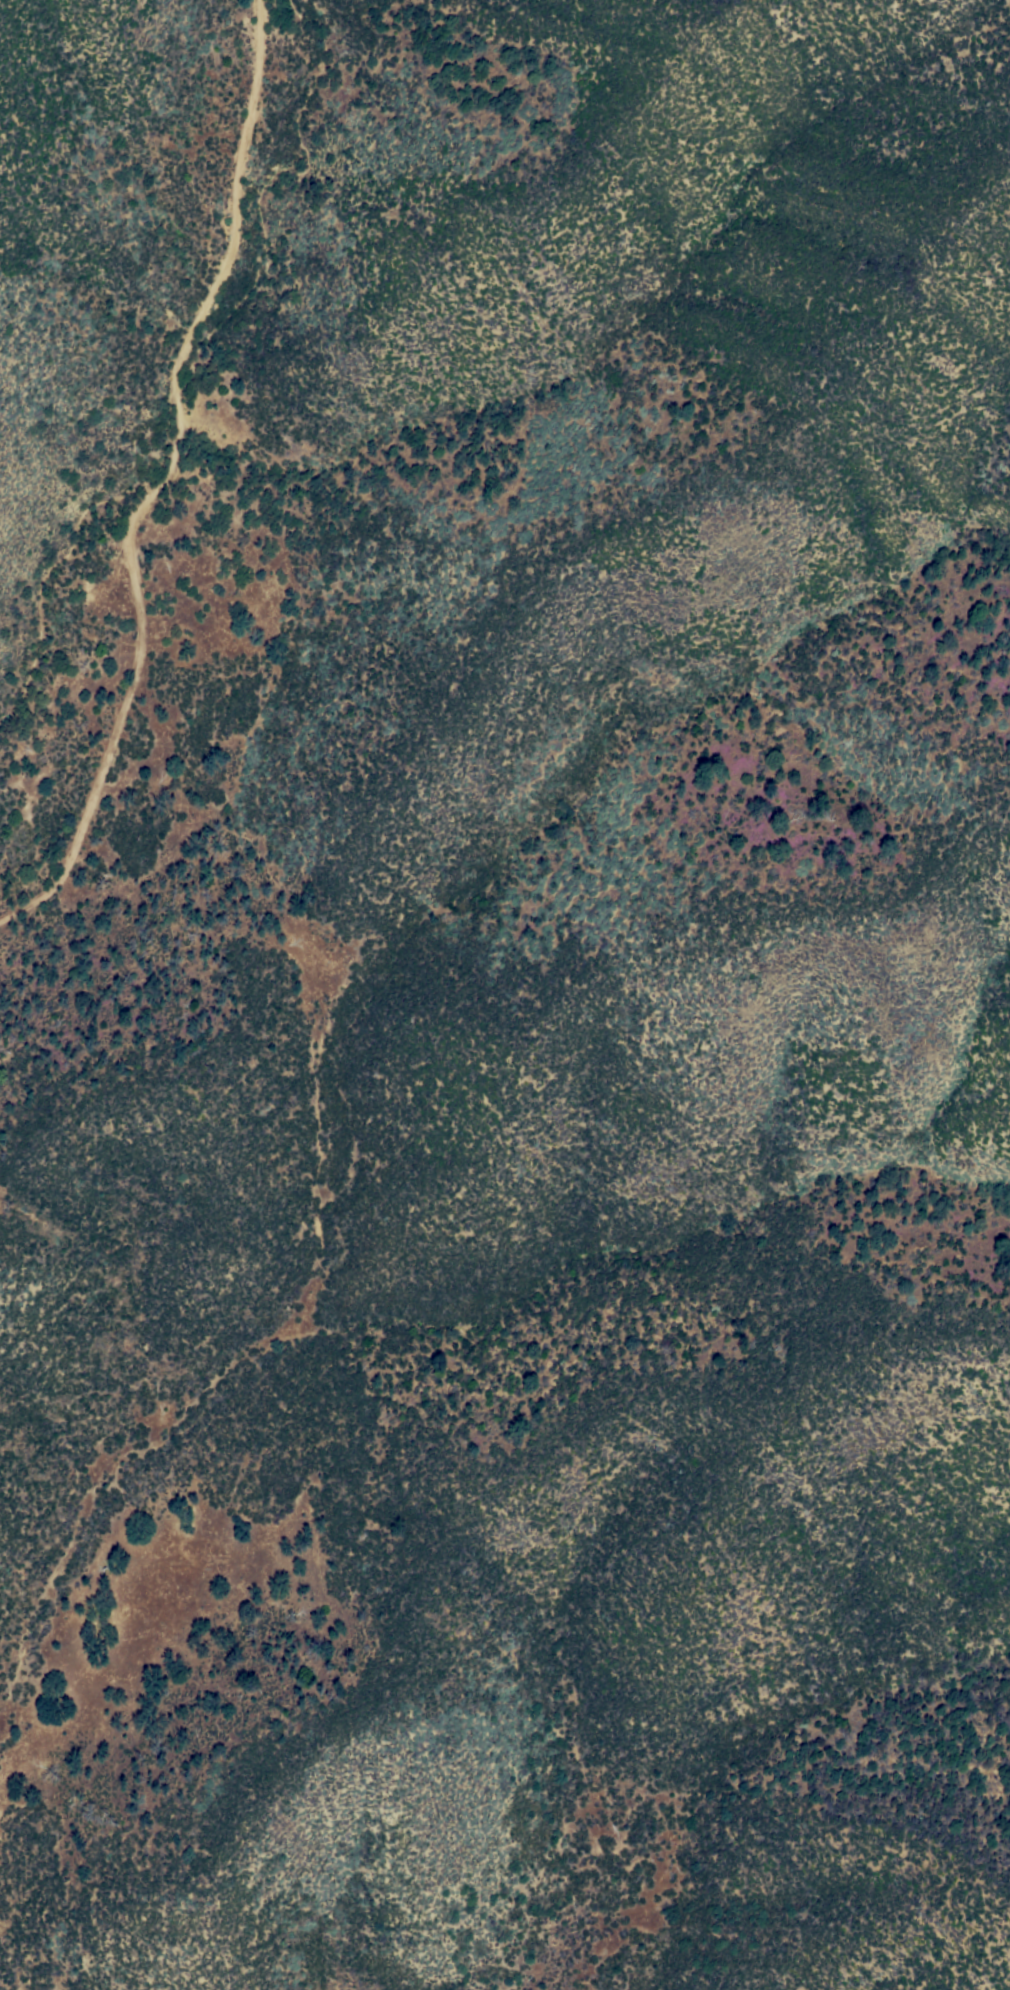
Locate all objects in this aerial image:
road: (168, 487)

